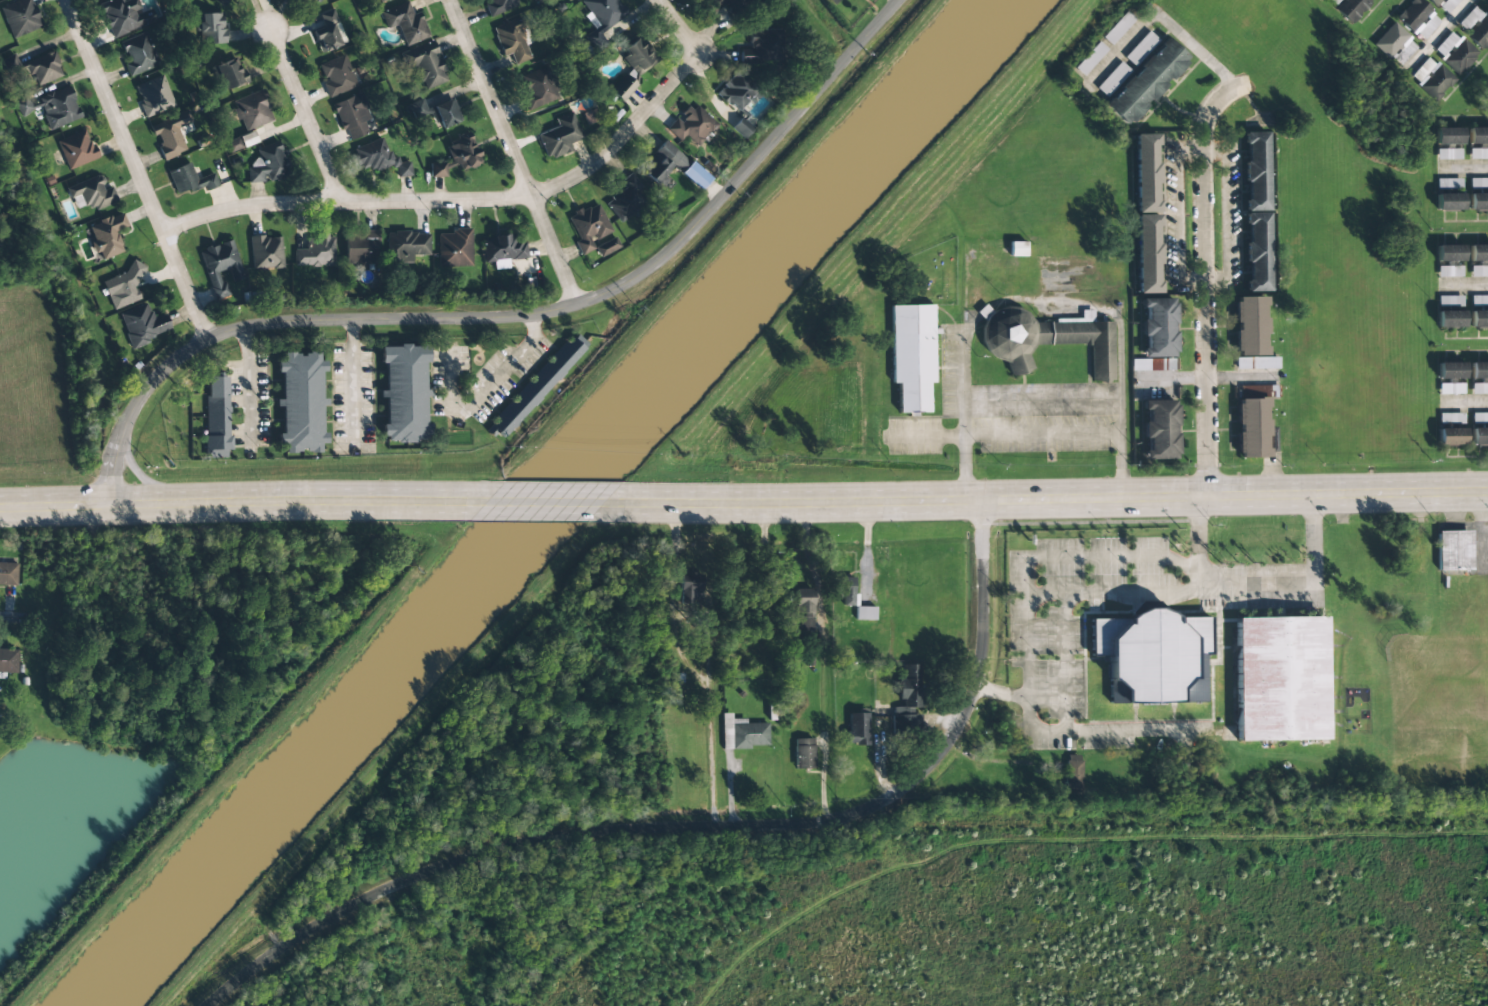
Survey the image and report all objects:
building: (300, 0)
building: (217, 1)
building: (317, 1)
building: (376, 1)
building: (832, 1)
building: (1443, 4)
building: (498, 5)
building: (730, 5)
building: (1350, 8)
building: (602, 12)
building: (123, 16)
building: (19, 17)
building: (1416, 17)
building: (404, 22)
building: (1475, 26)
building: (1118, 27)
building: (210, 28)
building: (327, 32)
road: (1437, 35)
building: (1389, 40)
building: (511, 41)
building: (762, 47)
building: (1140, 49)
building: (1454, 52)
building: (137, 54)
building: (1090, 59)
building: (424, 64)
building: (632, 66)
building: (35, 67)
building: (228, 73)
building: (335, 75)
building: (1112, 79)
building: (1145, 82)
building: (1435, 83)
building: (536, 89)
building: (737, 90)
building: (152, 96)
building: (58, 109)
building: (251, 112)
building: (435, 112)
road: (306, 116)
building: (350, 116)
building: (590, 117)
building: (691, 124)
building: (741, 127)
building: (168, 136)
building: (1447, 136)
building: (1477, 136)
building: (558, 137)
building: (241, 142)
building: (76, 149)
road: (513, 151)
building: (1478, 153)
building: (1448, 154)
building: (371, 155)
building: (455, 157)
building: (662, 163)
building: (266, 164)
road: (136, 169)
building: (402, 169)
building: (695, 176)
building: (187, 180)
building: (1447, 184)
building: (1478, 184)
building: (91, 194)
road: (488, 196)
building: (626, 197)
building: (1448, 202)
building: (1478, 202)
building: (1256, 211)
building: (1146, 214)
building: (591, 231)
building: (106, 235)
building: (405, 246)
building: (453, 248)
building: (502, 248)
building: (359, 249)
building: (1017, 249)
building: (315, 251)
building: (266, 252)
building: (1478, 253)
building: (1448, 260)
building: (220, 266)
building: (1478, 270)
road: (1207, 279)
building: (121, 286)
building: (1449, 301)
building: (1479, 301)
road: (514, 315)
building: (1449, 319)
building: (1478, 319)
building: (141, 324)
building: (1249, 326)
building: (1157, 328)
building: (1043, 340)
building: (911, 355)
building: (1256, 363)
building: (1139, 365)
building: (1449, 370)
building: (1479, 370)
building: (536, 385)
building: (1479, 388)
building: (403, 394)
building: (299, 402)
building: (215, 413)
building: (1450, 418)
building: (1479, 418)
building: (1251, 421)
building: (1158, 430)
building: (1450, 436)
building: (1479, 436)
building: (1272, 439)
road: (1052, 499)
road: (238, 503)
road: (547, 503)
building: (1453, 550)
building: (7, 573)
building: (690, 589)
building: (844, 590)
building: (803, 609)
building: (864, 613)
road: (4, 615)
building: (1153, 657)
building: (8, 660)
building: (1279, 679)
building: (676, 685)
building: (907, 700)
building: (856, 728)
building: (742, 733)
building: (803, 754)
building: (1071, 774)
road: (694, 826)

